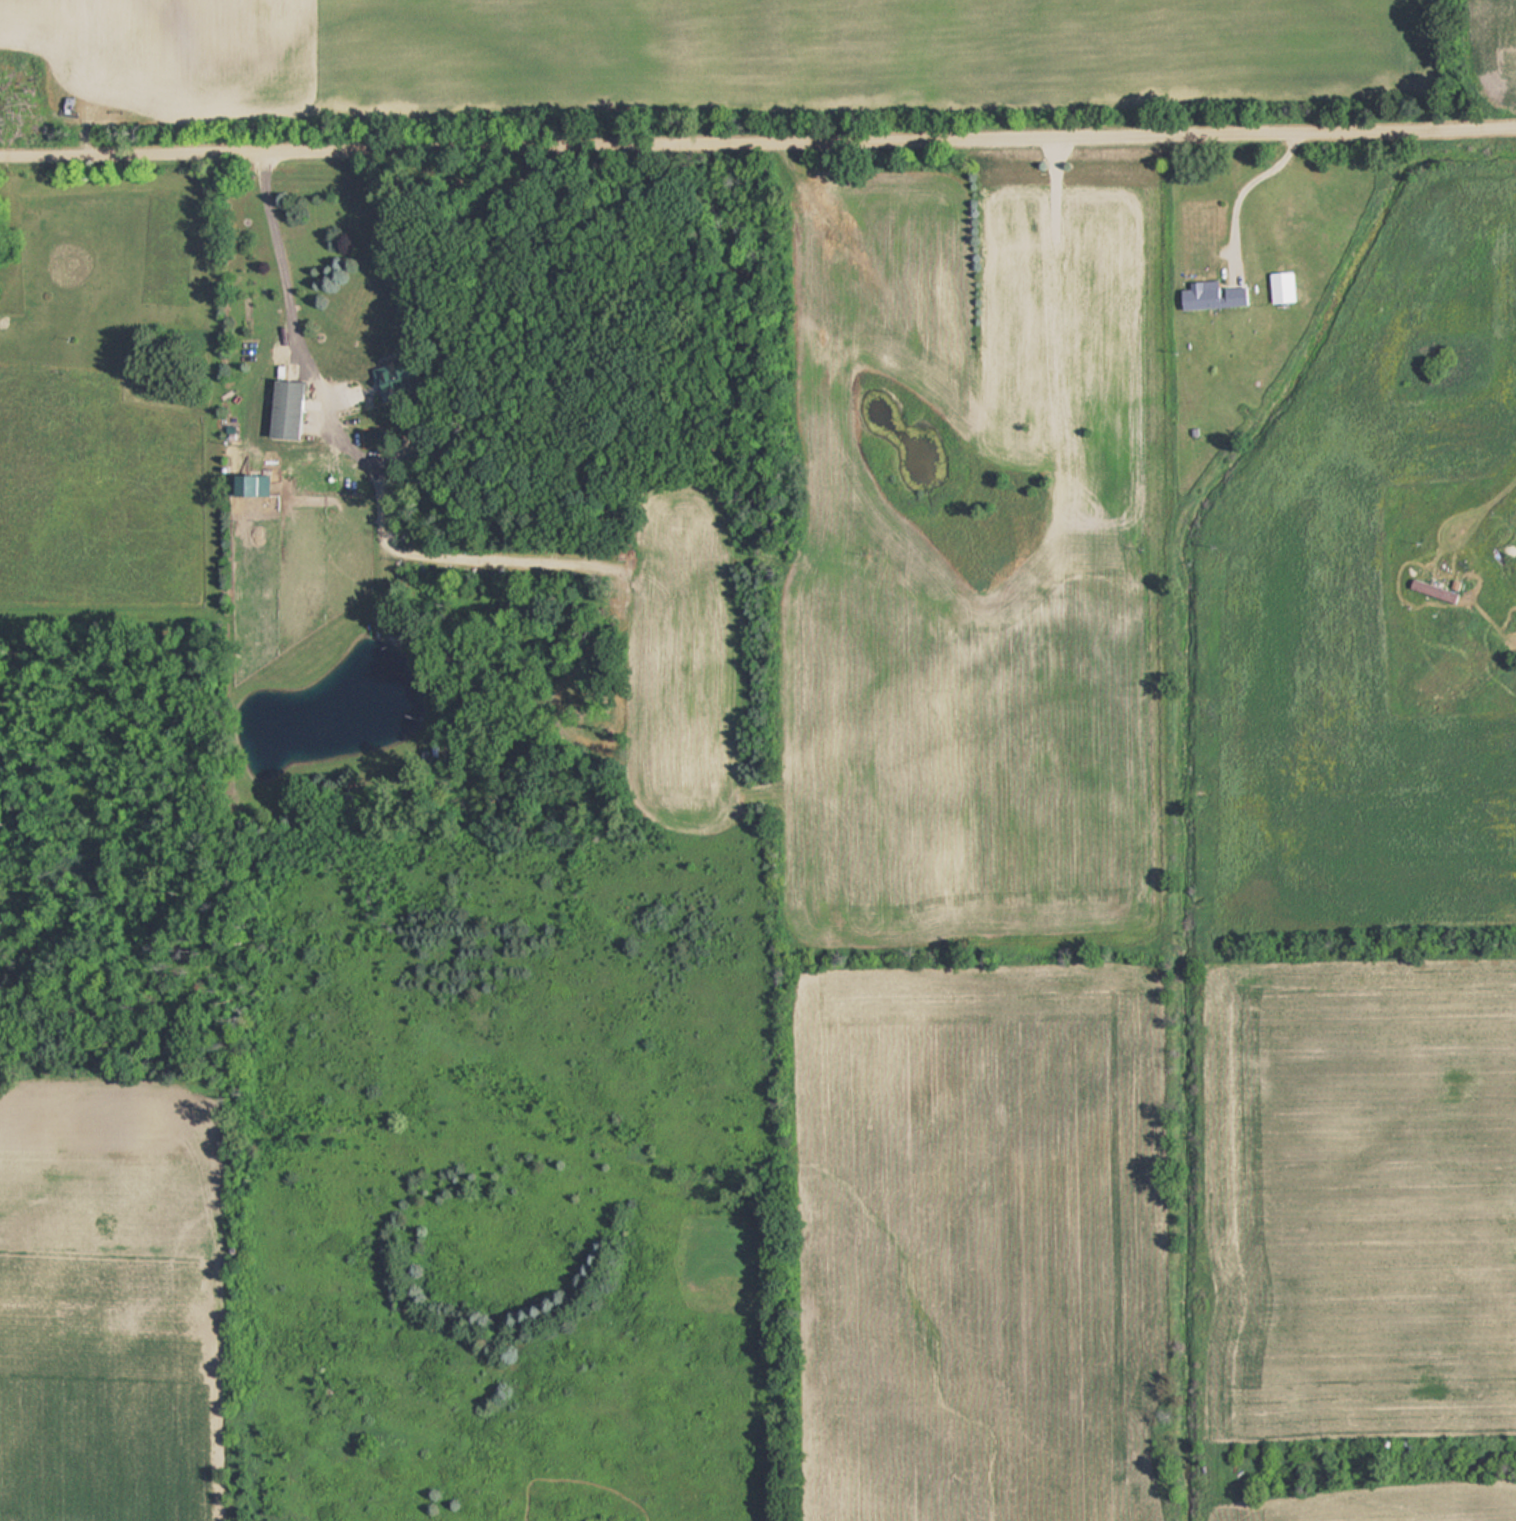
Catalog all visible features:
road: (758, 151)
building: (1278, 287)
building: (1209, 296)
building: (401, 378)
building: (297, 409)
building: (254, 484)
building: (1431, 591)

